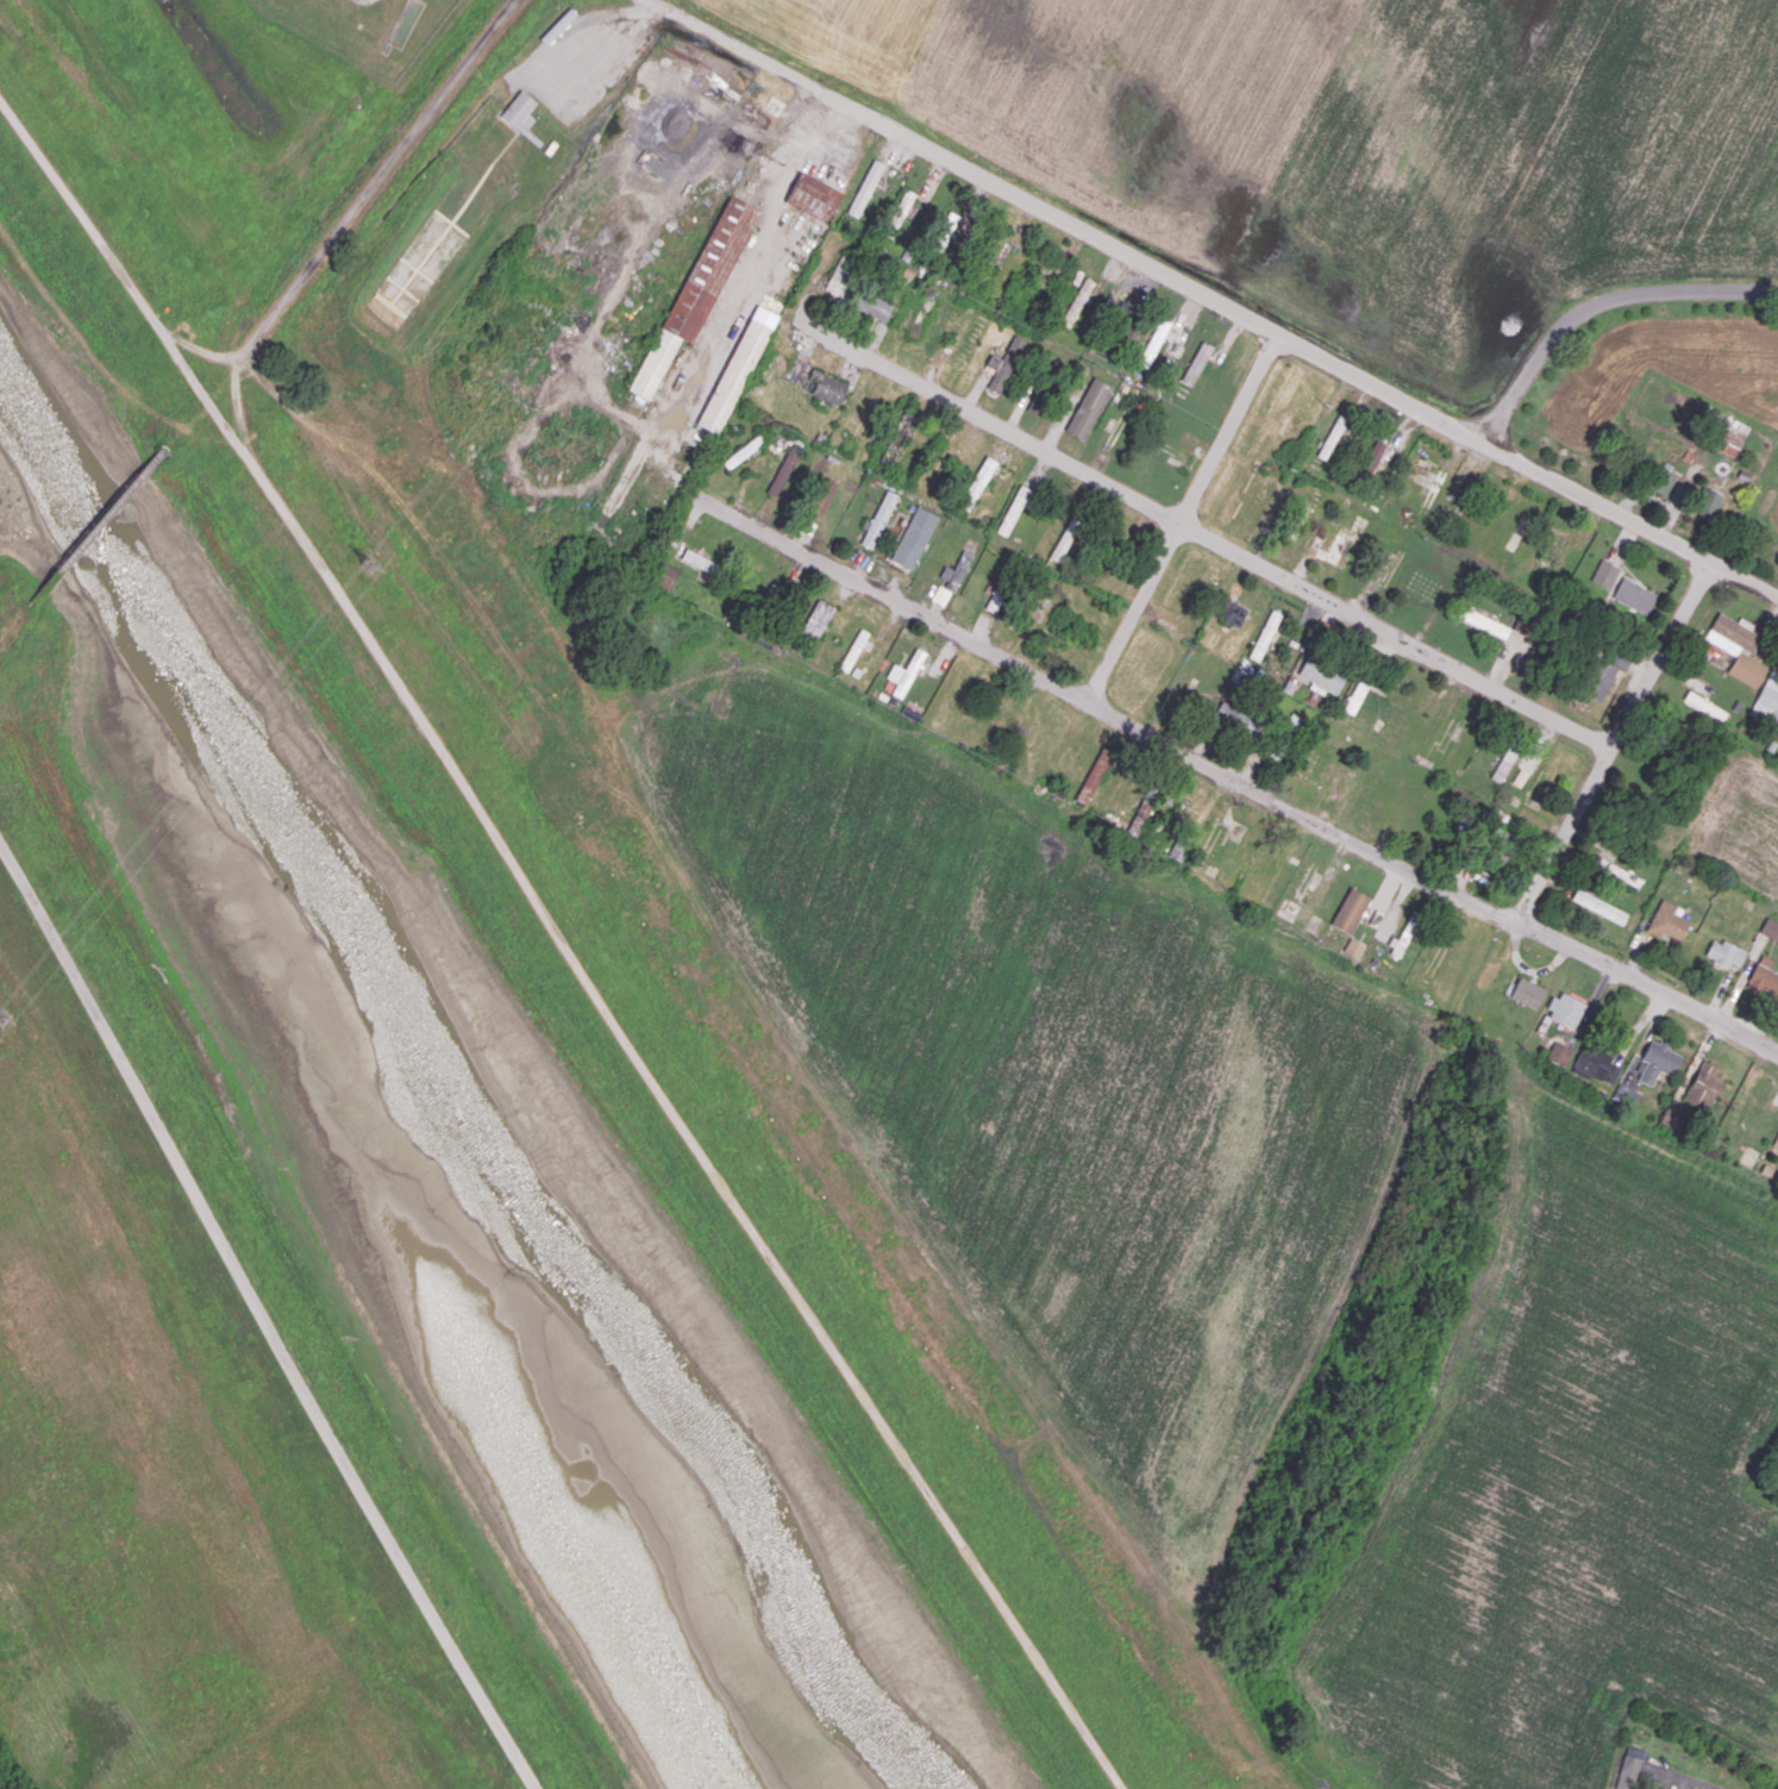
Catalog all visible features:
power tower: (753, 93)
crop: (1351, 145)
road: (1214, 299)
road: (1599, 307)
road: (1185, 518)
railway: (96, 524)
road: (765, 530)
road: (1203, 534)
power tower: (367, 564)
road: (1591, 789)
road: (1298, 813)
road: (561, 947)
power tower: (2, 1018)
crop: (1014, 1065)
road: (258, 1320)
crop: (1570, 1494)
crop: (136, 1495)

